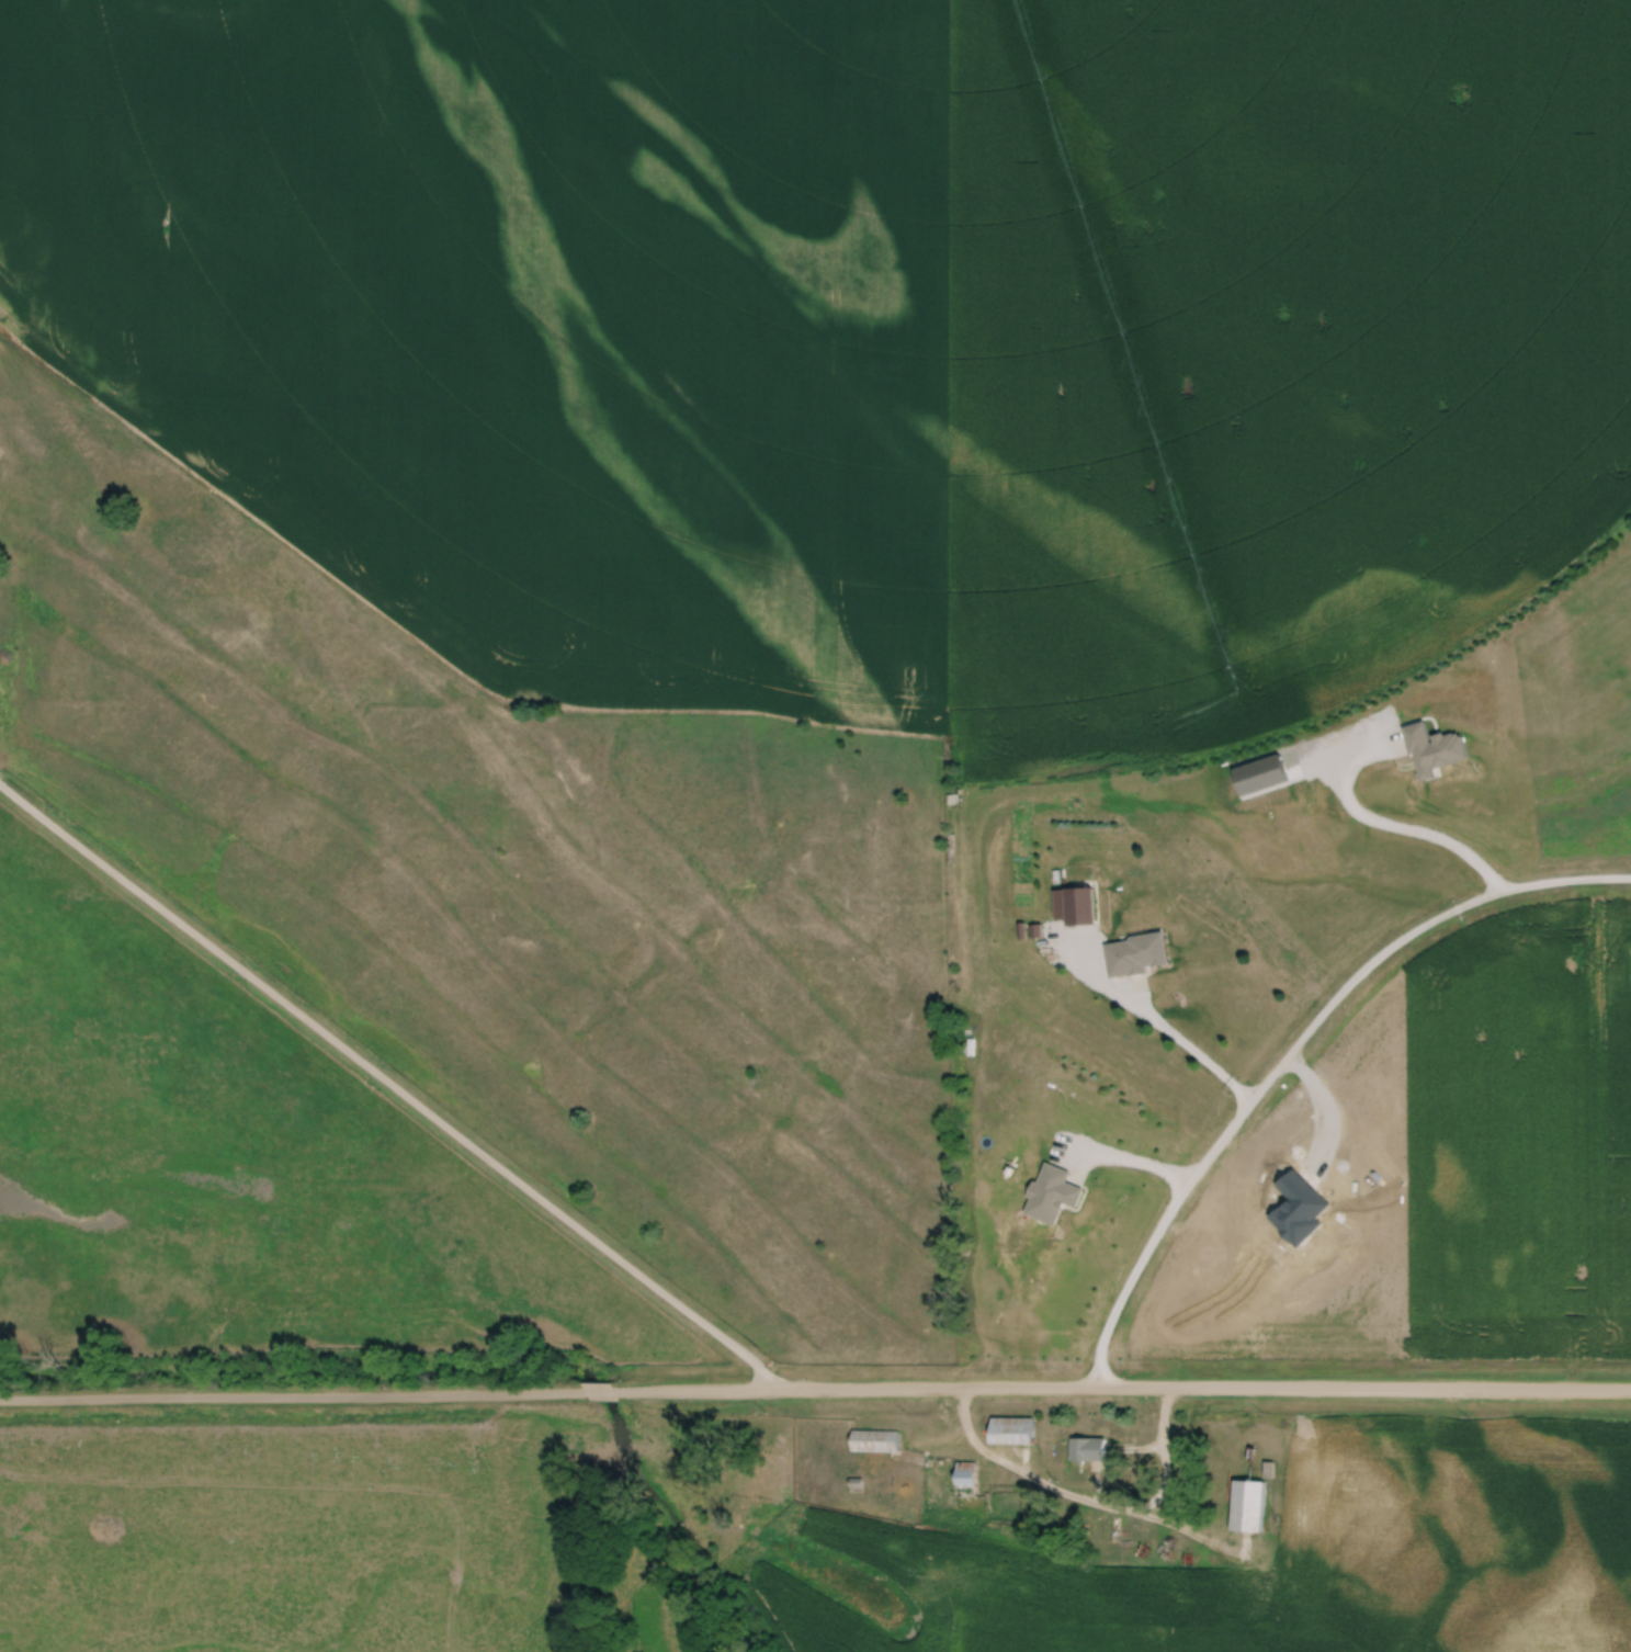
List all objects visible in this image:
road: (1391, 834)
building: (1080, 907)
building: (1146, 953)
road: (1157, 1025)
road: (1292, 1053)
road: (392, 1083)
road: (1136, 1165)
river: (452, 1371)
road: (599, 1389)
road: (1123, 1389)
road: (291, 1391)
building: (1012, 1430)
building: (875, 1441)
building: (1088, 1449)
building: (966, 1474)
road: (1090, 1502)
building: (1248, 1506)

